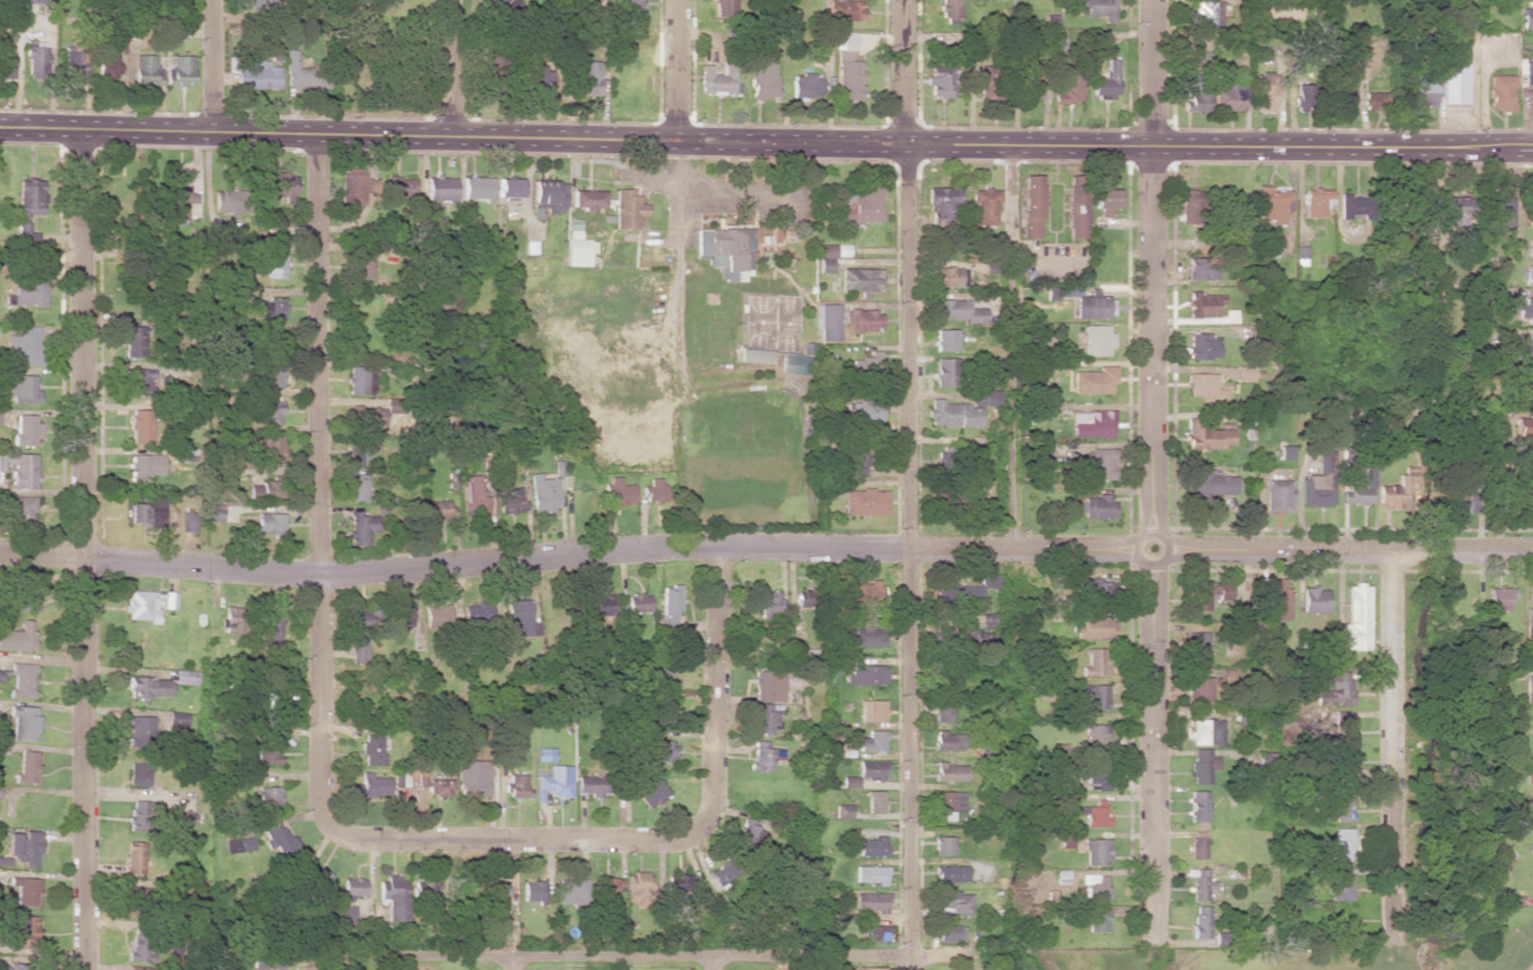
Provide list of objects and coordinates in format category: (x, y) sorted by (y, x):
building: (32, 1)
building: (263, 5)
building: (499, 6)
building: (628, 7)
building: (722, 7)
building: (1096, 9)
building: (843, 10)
building: (949, 11)
building: (1207, 13)
building: (1527, 17)
building: (1057, 45)
building: (110, 57)
building: (34, 58)
building: (5, 59)
building: (73, 65)
road: (212, 67)
road: (450, 68)
building: (848, 69)
building: (145, 70)
road: (677, 70)
building: (179, 71)
building: (1529, 71)
building: (303, 74)
building: (257, 76)
building: (590, 78)
building: (762, 78)
building: (717, 80)
building: (1107, 80)
building: (536, 81)
building: (985, 82)
building: (1031, 82)
building: (941, 83)
building: (1443, 83)
building: (806, 85)
building: (1069, 87)
building: (1501, 92)
building: (1265, 93)
building: (1228, 96)
building: (1196, 97)
building: (1304, 97)
building: (1343, 100)
building: (1374, 101)
road: (766, 142)
building: (278, 185)
building: (354, 186)
building: (399, 188)
building: (439, 188)
building: (507, 188)
building: (475, 189)
building: (29, 198)
building: (546, 198)
building: (586, 199)
building: (177, 201)
building: (231, 201)
building: (1106, 201)
building: (1316, 202)
building: (862, 203)
building: (941, 203)
building: (1355, 205)
building: (984, 206)
building: (1032, 206)
building: (1076, 206)
building: (1190, 206)
building: (627, 209)
building: (1456, 209)
building: (1531, 209)
building: (1501, 210)
building: (26, 234)
building: (1271, 245)
building: (579, 248)
building: (723, 250)
building: (1301, 256)
building: (824, 257)
building: (763, 259)
building: (277, 265)
building: (359, 266)
building: (1201, 269)
building: (1529, 275)
building: (949, 277)
building: (857, 280)
building: (28, 291)
building: (1204, 304)
building: (1094, 307)
building: (276, 308)
building: (1526, 308)
building: (959, 311)
building: (862, 321)
building: (826, 322)
building: (945, 340)
building: (1097, 340)
building: (133, 341)
building: (275, 341)
building: (25, 345)
building: (1203, 346)
building: (1525, 349)
road: (320, 355)
building: (756, 355)
building: (864, 362)
building: (792, 363)
building: (945, 372)
building: (271, 376)
building: (361, 380)
building: (1094, 380)
building: (138, 382)
building: (1203, 385)
building: (22, 389)
building: (985, 398)
building: (270, 412)
building: (863, 412)
building: (952, 414)
building: (367, 416)
building: (1093, 424)
building: (140, 426)
building: (1524, 426)
building: (26, 430)
building: (1208, 437)
building: (268, 447)
building: (360, 451)
building: (1282, 452)
park: (742, 458)
building: (861, 461)
building: (1098, 464)
building: (145, 466)
building: (1531, 466)
building: (20, 469)
road: (1150, 470)
building: (1319, 483)
road: (906, 485)
building: (1214, 485)
building: (358, 488)
building: (264, 489)
building: (1360, 489)
building: (1402, 489)
building: (655, 491)
building: (618, 492)
building: (544, 493)
building: (1278, 495)
building: (472, 498)
building: (510, 501)
building: (865, 502)
building: (1463, 503)
building: (1097, 507)
building: (23, 509)
building: (437, 510)
building: (1524, 510)
building: (213, 514)
building: (140, 515)
building: (187, 522)
building: (269, 524)
building: (361, 528)
road: (765, 547)
road: (84, 550)
building: (1100, 592)
building: (867, 593)
building: (1205, 594)
building: (1500, 599)
building: (169, 600)
building: (1315, 600)
building: (1278, 601)
building: (639, 603)
building: (769, 603)
building: (599, 605)
building: (669, 605)
building: (142, 606)
building: (478, 615)
building: (1529, 615)
building: (436, 616)
building: (401, 617)
building: (520, 618)
building: (987, 619)
building: (1357, 620)
building: (230, 621)
building: (1095, 627)
building: (276, 636)
building: (358, 637)
building: (868, 637)
building: (18, 638)
building: (1199, 647)
building: (1096, 662)
building: (867, 675)
building: (1, 676)
building: (186, 677)
building: (23, 683)
building: (768, 686)
building: (149, 688)
building: (1201, 689)
building: (1336, 689)
building: (1529, 690)
building: (1095, 696)
building: (662, 711)
building: (872, 711)
building: (942, 711)
building: (765, 718)
building: (24, 723)
building: (1343, 727)
building: (1532, 727)
building: (139, 731)
building: (1206, 731)
building: (1096, 736)
building: (873, 741)
building: (948, 741)
road: (1395, 743)
building: (372, 749)
building: (657, 751)
building: (268, 753)
building: (764, 756)
building: (1264, 760)
building: (1203, 765)
building: (1342, 767)
building: (27, 768)
building: (871, 770)
building: (951, 772)
building: (1528, 772)
building: (139, 775)
building: (1098, 777)
building: (472, 778)
building: (556, 781)
building: (849, 782)
building: (593, 785)
building: (517, 786)
building: (370, 787)
building: (439, 787)
building: (652, 793)
building: (1199, 799)
building: (269, 800)
building: (875, 802)
building: (948, 804)
building: (1344, 809)
building: (843, 811)
building: (1095, 814)
building: (139, 817)
building: (184, 818)
building: (750, 834)
road: (531, 837)
building: (278, 840)
building: (1343, 844)
building: (873, 846)
building: (943, 846)
building: (1198, 847)
building: (24, 848)
building: (1097, 852)
building: (1532, 858)
building: (138, 860)
building: (951, 874)
building: (871, 875)
building: (320, 877)
building: (679, 882)
building: (1341, 884)
building: (1201, 885)
building: (1096, 886)
building: (352, 889)
building: (427, 890)
building: (606, 890)
building: (640, 890)
building: (533, 891)
building: (571, 891)
building: (26, 892)
building: (495, 893)
building: (393, 898)
building: (955, 902)
building: (870, 903)
building: (348, 913)
building: (1099, 920)
building: (1201, 922)
building: (24, 931)
building: (877, 933)
building: (950, 933)
building: (141, 948)
river: (1434, 950)
road: (615, 958)
building: (268, 959)
road: (512, 964)
road: (714, 964)
road: (317, 965)
building: (14, 966)
road: (1530, 967)
building: (142, 968)
building: (866, 968)

